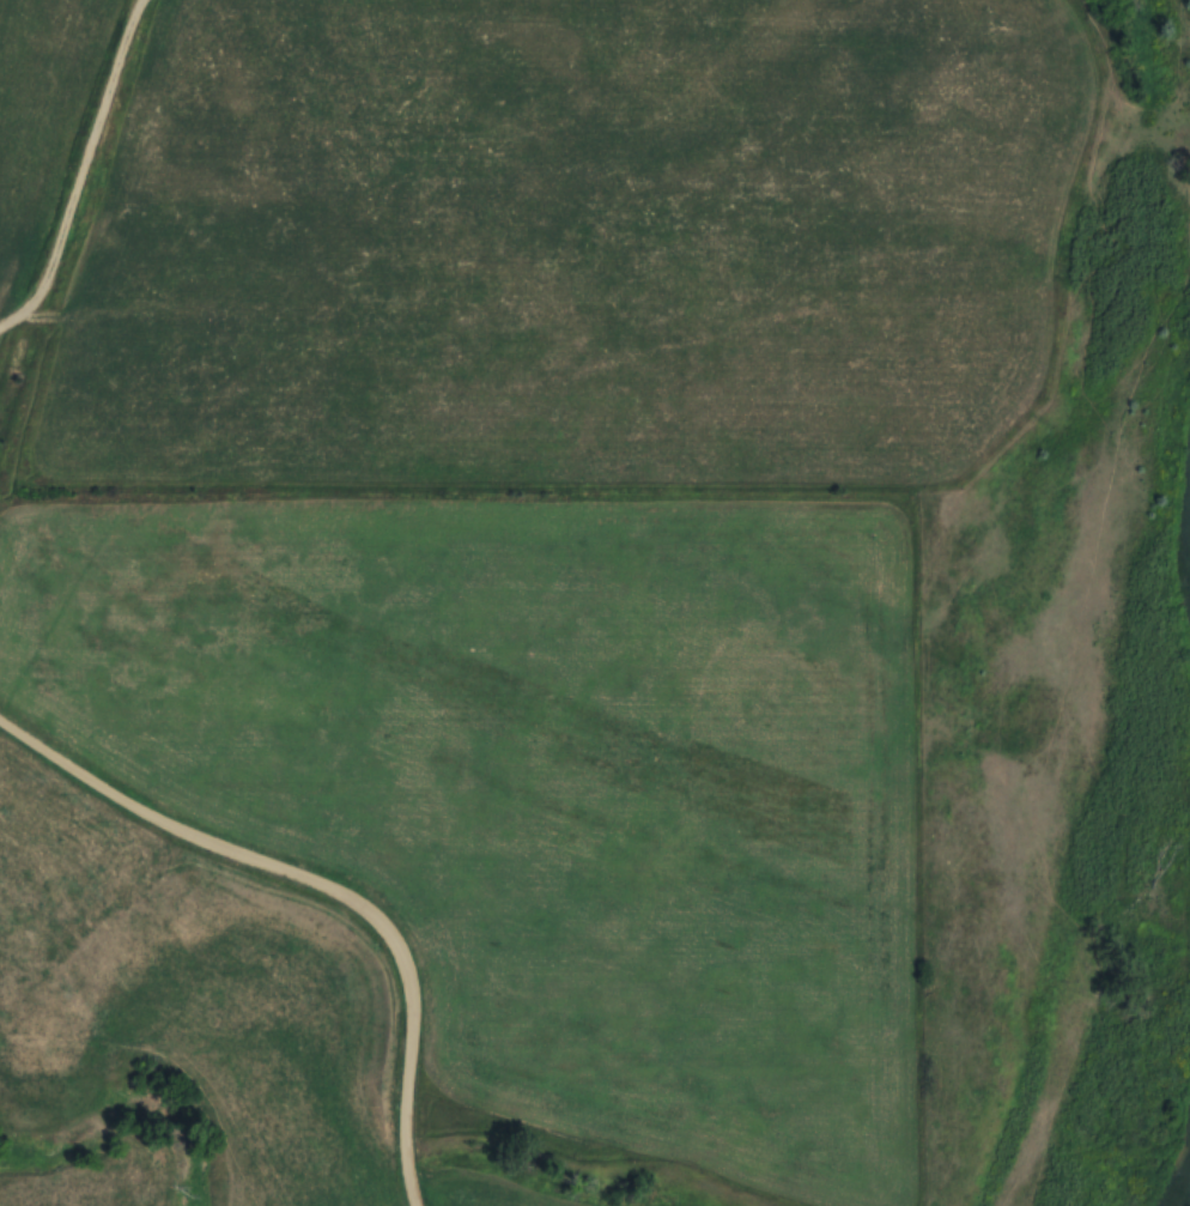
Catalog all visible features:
river: (1184, 1198)

